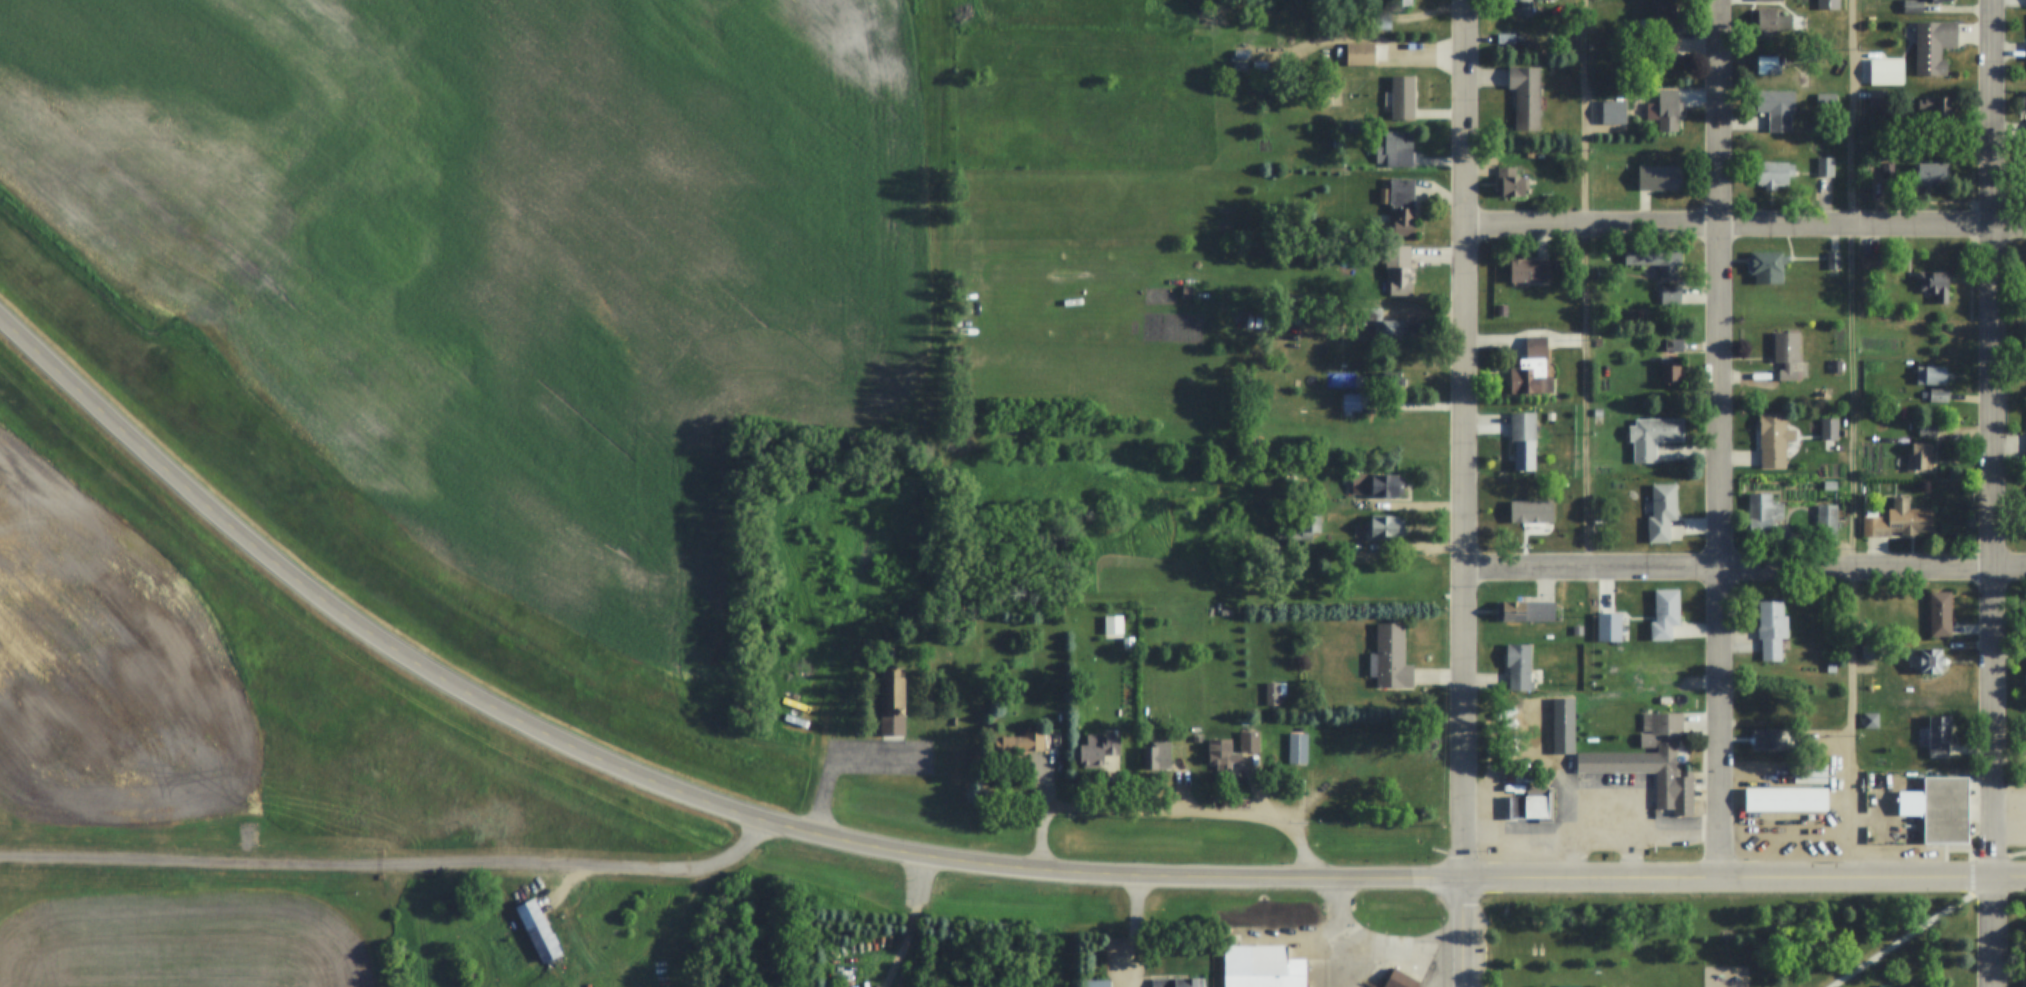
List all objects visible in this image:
building: (1770, 0)
building: (1937, 0)
building: (1400, 3)
building: (1829, 4)
building: (1913, 6)
building: (1523, 7)
building: (1381, 21)
building: (1770, 23)
building: (1662, 31)
building: (1505, 40)
building: (1933, 46)
building: (1360, 54)
building: (1768, 64)
building: (1237, 68)
building: (1892, 73)
building: (1526, 97)
building: (1402, 98)
building: (1826, 98)
building: (1877, 98)
building: (1935, 107)
building: (1776, 108)
building: (1668, 110)
building: (1865, 121)
building: (1395, 151)
building: (1825, 167)
building: (1887, 170)
building: (1773, 173)
building: (1926, 174)
building: (1659, 178)
building: (1509, 184)
building: (1402, 206)
road: (1748, 226)
building: (1833, 261)
building: (1656, 262)
building: (1870, 262)
building: (1767, 266)
building: (1398, 270)
building: (1530, 271)
building: (1601, 273)
building: (1935, 285)
building: (1670, 294)
building: (1501, 311)
building: (1366, 317)
road: (1585, 326)
building: (1390, 330)
building: (1597, 342)
building: (1673, 346)
building: (1786, 353)
building: (1836, 366)
building: (1532, 370)
building: (1670, 374)
building: (1931, 375)
building: (1386, 381)
building: (1938, 395)
building: (1351, 402)
building: (1597, 413)
building: (1829, 428)
building: (1927, 430)
road: (126, 432)
building: (1653, 437)
building: (1774, 438)
road: (1851, 438)
road: (1470, 439)
road: (1725, 439)
building: (1919, 458)
building: (1872, 464)
building: (1378, 485)
building: (1828, 485)
road: (1997, 493)
road: (1399, 507)
building: (1661, 512)
building: (1762, 515)
building: (1898, 520)
building: (1598, 521)
building: (1826, 521)
building: (1314, 522)
building: (1385, 528)
building: (1533, 531)
road: (1747, 567)
building: (1525, 613)
building: (1665, 615)
building: (1940, 615)
building: (1864, 626)
building: (1111, 627)
building: (1609, 629)
building: (1771, 630)
building: (1126, 644)
building: (1870, 652)
building: (890, 653)
road: (403, 656)
building: (1391, 657)
building: (1925, 662)
building: (1519, 668)
building: (1831, 668)
building: (1655, 670)
building: (1274, 693)
building: (892, 707)
building: (1870, 721)
building: (952, 722)
building: (2025, 730)
building: (1939, 737)
building: (1197, 739)
building: (1249, 741)
building: (1768, 741)
building: (1019, 745)
building: (1297, 748)
building: (1368, 749)
building: (1098, 750)
building: (1222, 755)
road: (841, 757)
building: (1157, 757)
building: (1651, 763)
building: (1785, 800)
building: (1531, 803)
building: (1945, 811)
road: (1149, 812)
road: (741, 816)
road: (1308, 816)
road: (393, 867)
road: (1476, 878)
road: (1948, 910)
road: (919, 922)
building: (537, 929)
building: (2024, 929)
road: (1463, 932)
park: (1729, 943)
road: (1374, 947)
building: (1262, 967)
building: (1400, 979)
building: (1177, 982)
building: (1096, 983)
building: (2025, 983)
building: (1888, 985)

